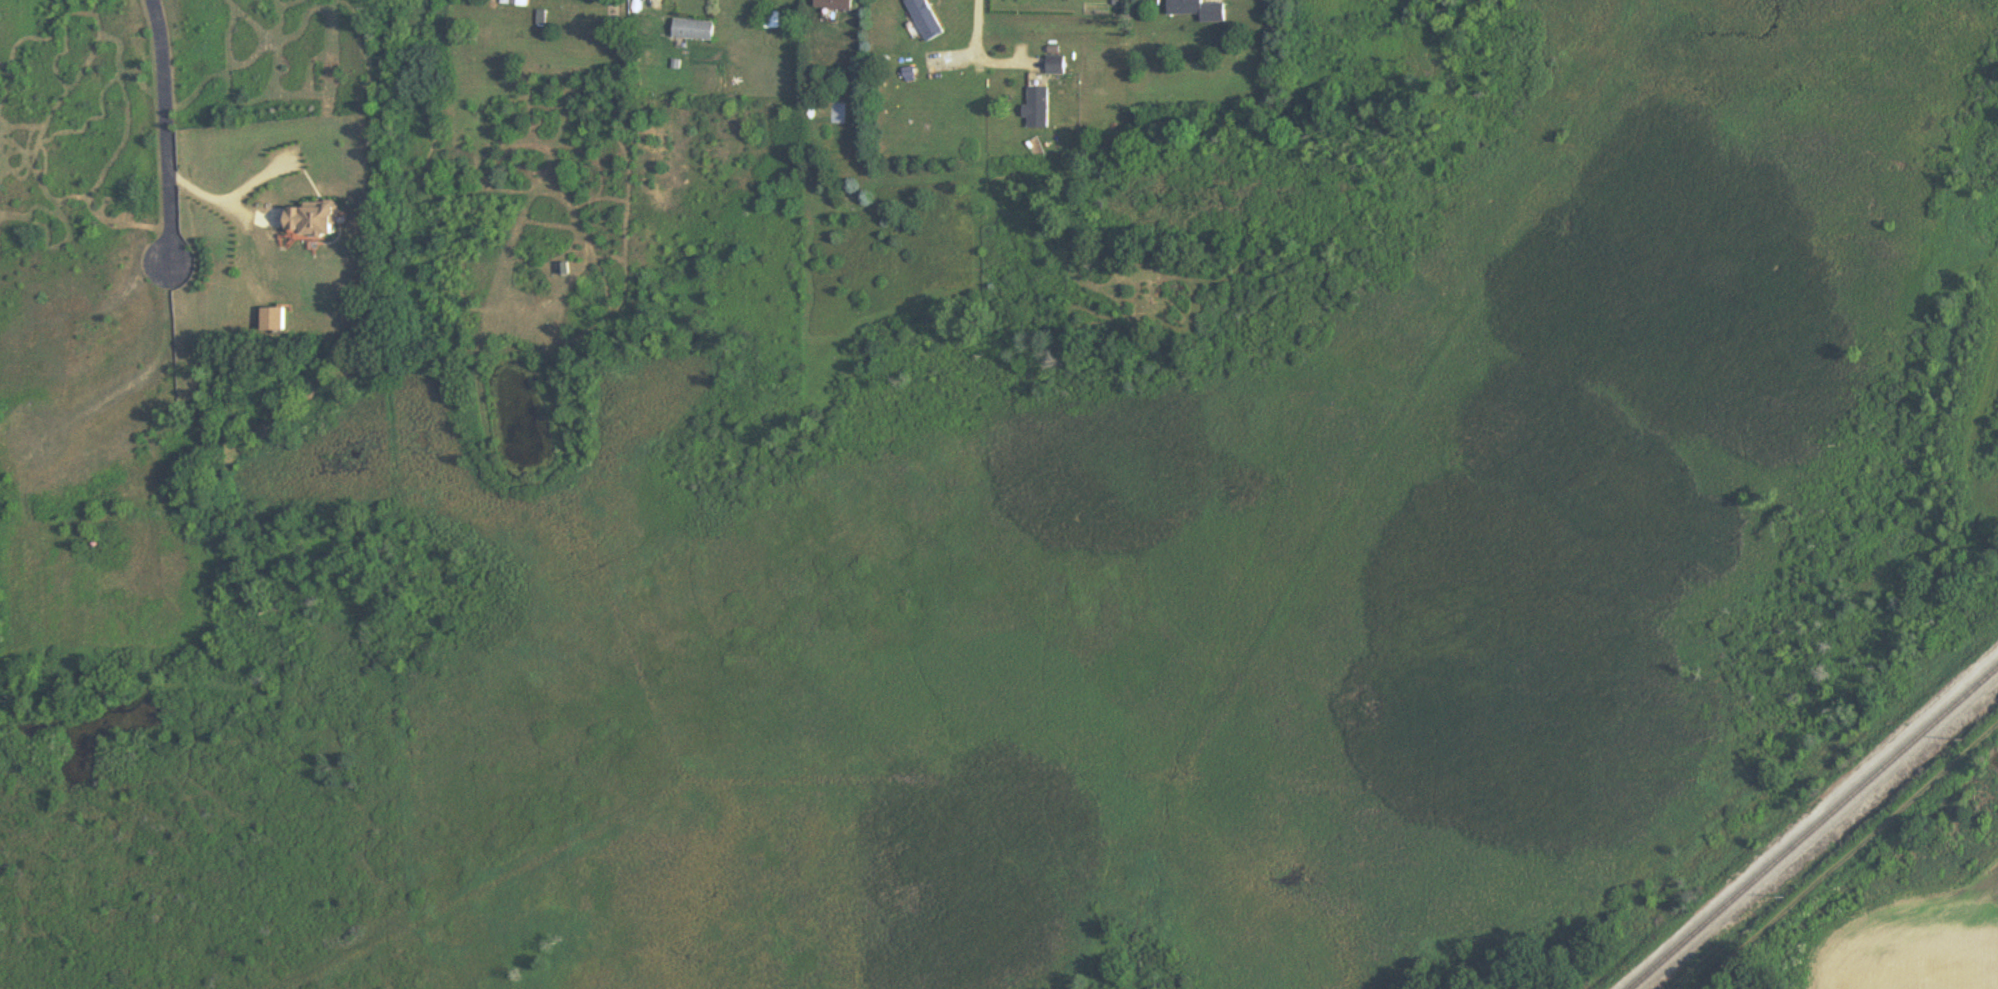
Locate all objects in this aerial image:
building: (513, 3)
road: (654, 5)
building: (833, 5)
building: (1196, 10)
building: (923, 19)
road: (973, 24)
building: (692, 31)
building: (1055, 66)
building: (1036, 110)
road: (170, 133)
road: (216, 197)
building: (308, 221)
building: (271, 321)
railway: (1814, 829)
road: (1847, 856)

